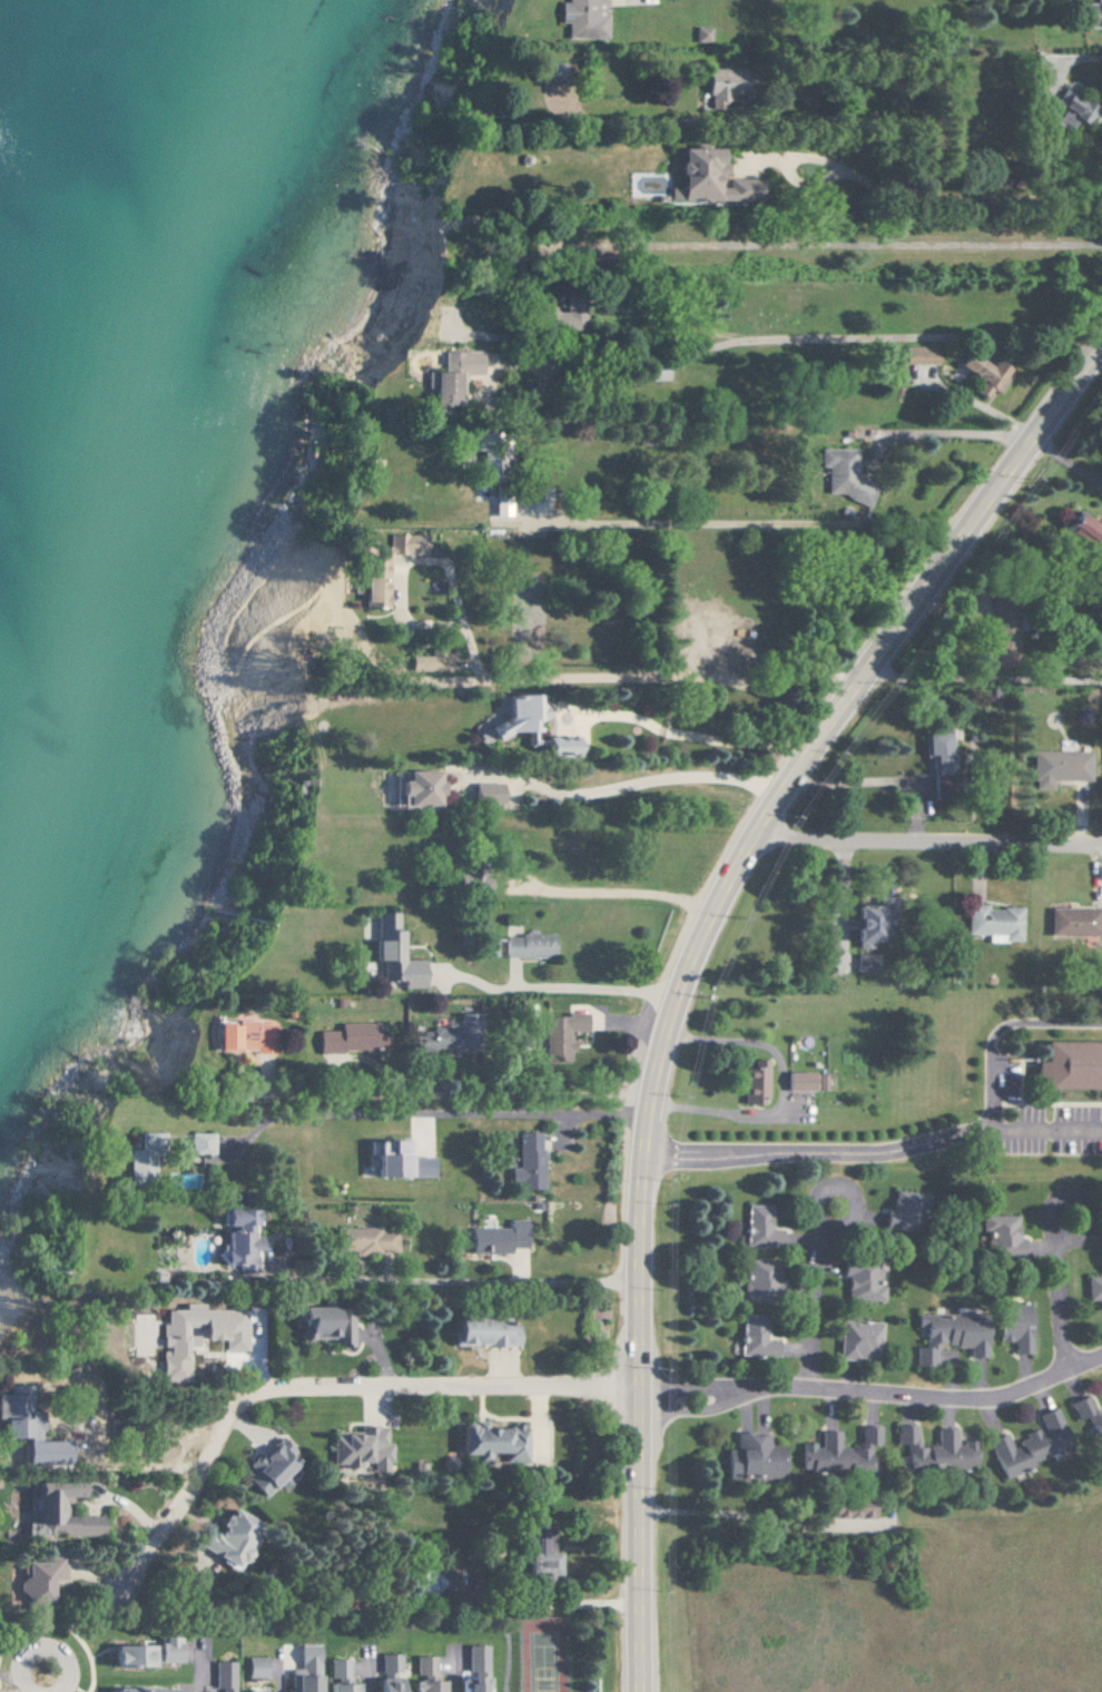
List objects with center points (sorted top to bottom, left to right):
building: (1091, 13)
building: (583, 18)
building: (705, 35)
building: (728, 86)
building: (1072, 110)
road: (829, 171)
building: (710, 177)
road: (469, 233)
road: (810, 260)
road: (470, 277)
building: (564, 321)
road: (912, 334)
building: (923, 354)
building: (985, 374)
building: (659, 375)
building: (453, 376)
road: (1071, 462)
building: (845, 474)
road: (729, 521)
building: (1088, 529)
building: (385, 569)
building: (430, 661)
road: (533, 673)
road: (981, 673)
building: (518, 718)
building: (559, 745)
building: (938, 752)
building: (1059, 767)
road: (641, 779)
building: (419, 789)
building: (488, 793)
road: (927, 848)
building: (471, 884)
road: (628, 889)
building: (875, 922)
building: (1074, 922)
building: (994, 923)
building: (530, 945)
building: (399, 956)
road: (697, 956)
building: (868, 962)
road: (586, 988)
building: (469, 1025)
road: (1000, 1027)
building: (246, 1035)
building: (562, 1035)
building: (352, 1037)
building: (431, 1041)
building: (1071, 1065)
building: (801, 1080)
building: (757, 1081)
road: (784, 1088)
road: (397, 1102)
road: (1049, 1128)
building: (201, 1143)
road: (820, 1150)
building: (144, 1159)
building: (530, 1161)
building: (401, 1162)
building: (903, 1211)
building: (762, 1227)
building: (1003, 1234)
building: (239, 1237)
building: (500, 1238)
building: (367, 1239)
road: (450, 1280)
building: (761, 1280)
building: (865, 1280)
road: (1060, 1283)
building: (1094, 1288)
road: (827, 1298)
building: (326, 1322)
building: (1014, 1326)
building: (484, 1331)
building: (950, 1336)
building: (756, 1337)
building: (859, 1339)
building: (176, 1341)
road: (874, 1391)
road: (315, 1396)
building: (1088, 1413)
building: (27, 1427)
building: (493, 1440)
building: (1031, 1444)
building: (361, 1448)
building: (936, 1450)
building: (839, 1452)
building: (755, 1457)
building: (273, 1467)
road: (137, 1468)
building: (852, 1507)
building: (59, 1509)
road: (754, 1511)
building: (229, 1537)
building: (542, 1556)
building: (39, 1577)
road: (589, 1603)
building: (166, 1649)
building: (131, 1654)
building: (388, 1665)
building: (255, 1666)
building: (474, 1669)
building: (305, 1670)
road: (451, 1671)
road: (200, 1672)
road: (365, 1672)
road: (281, 1673)
building: (425, 1675)
building: (223, 1676)
building: (338, 1676)
road: (37, 1683)
road: (47, 1683)
building: (386, 1684)
building: (254, 1691)

